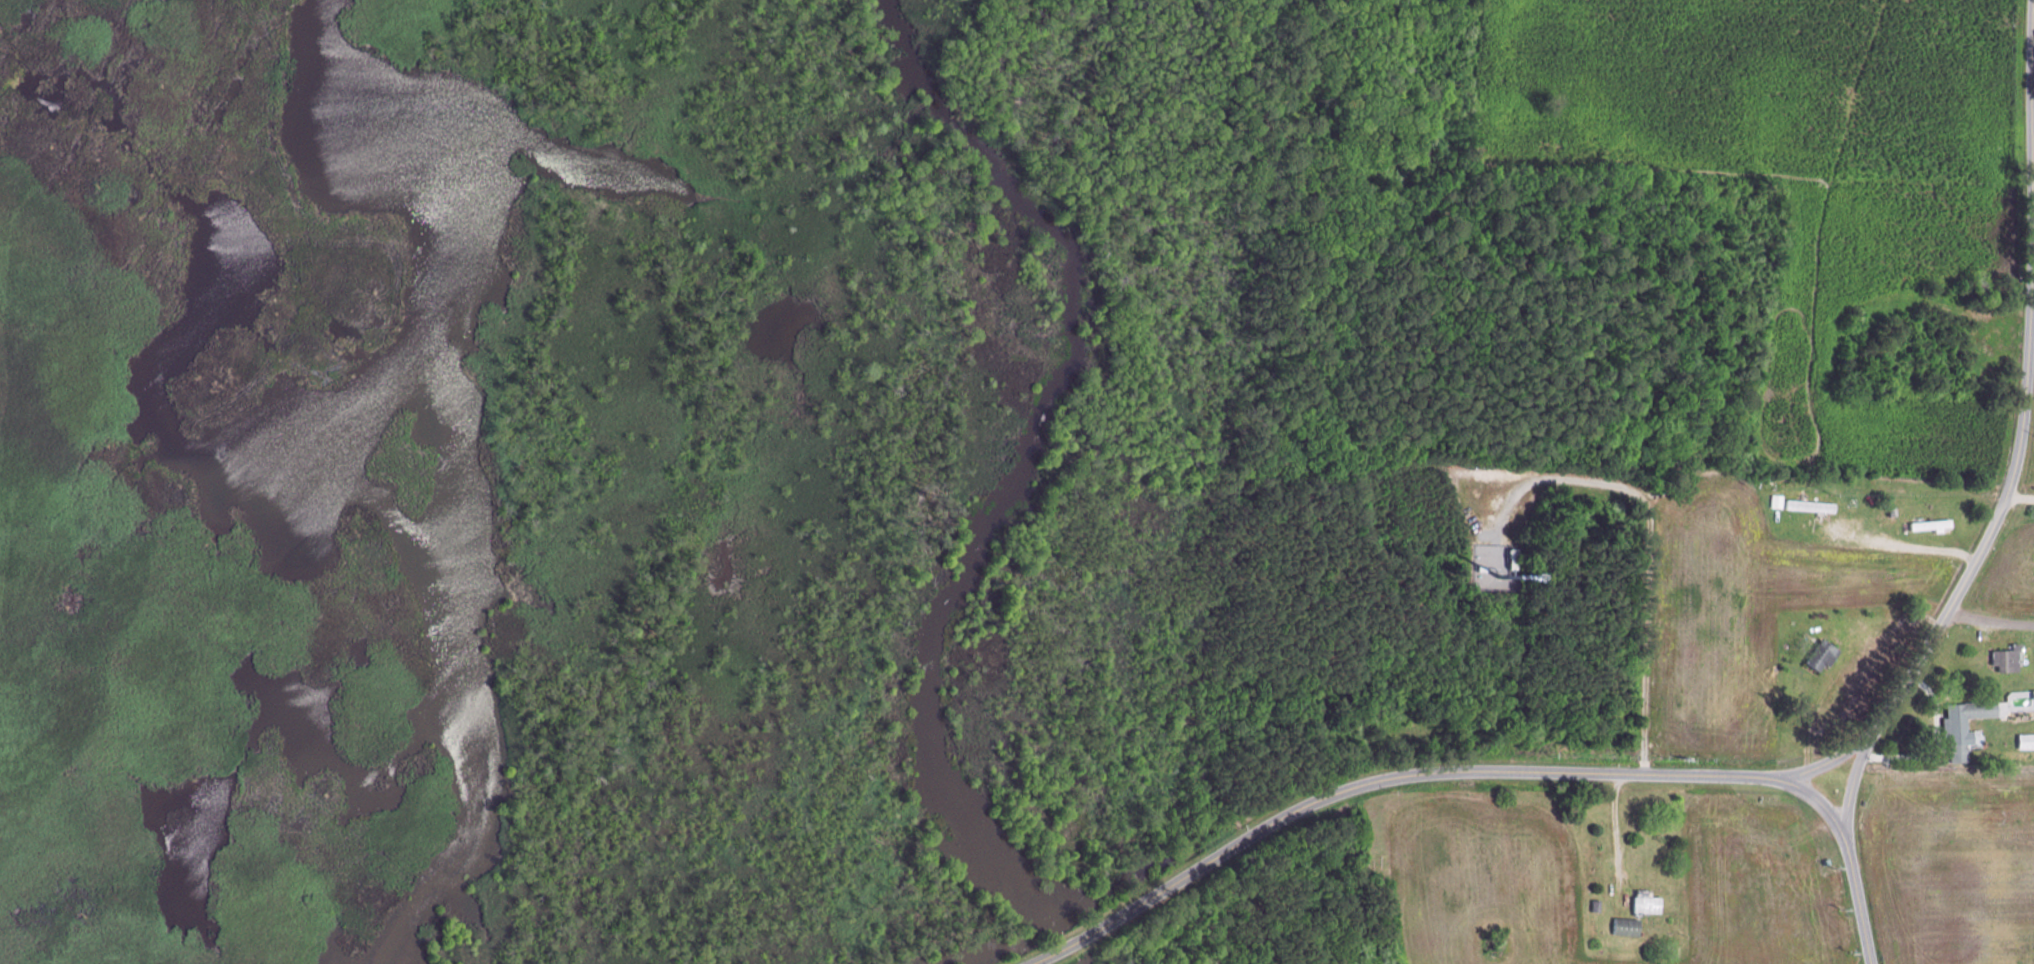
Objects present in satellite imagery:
road: (2033, 165)
road: (2033, 194)
road: (2019, 446)
road: (2020, 497)
building: (1777, 502)
building: (1811, 507)
building: (1893, 513)
building: (1932, 526)
road: (1900, 547)
road: (1650, 548)
building: (1514, 556)
crop: (2008, 575)
crop: (1749, 610)
road: (1989, 619)
building: (1822, 653)
building: (2007, 657)
road: (1841, 665)
building: (2033, 692)
building: (1963, 725)
building: (2026, 741)
road: (1931, 743)
road: (1828, 761)
road: (1426, 772)
crop: (1950, 864)
building: (1644, 901)
road: (1859, 901)
building: (1625, 926)

